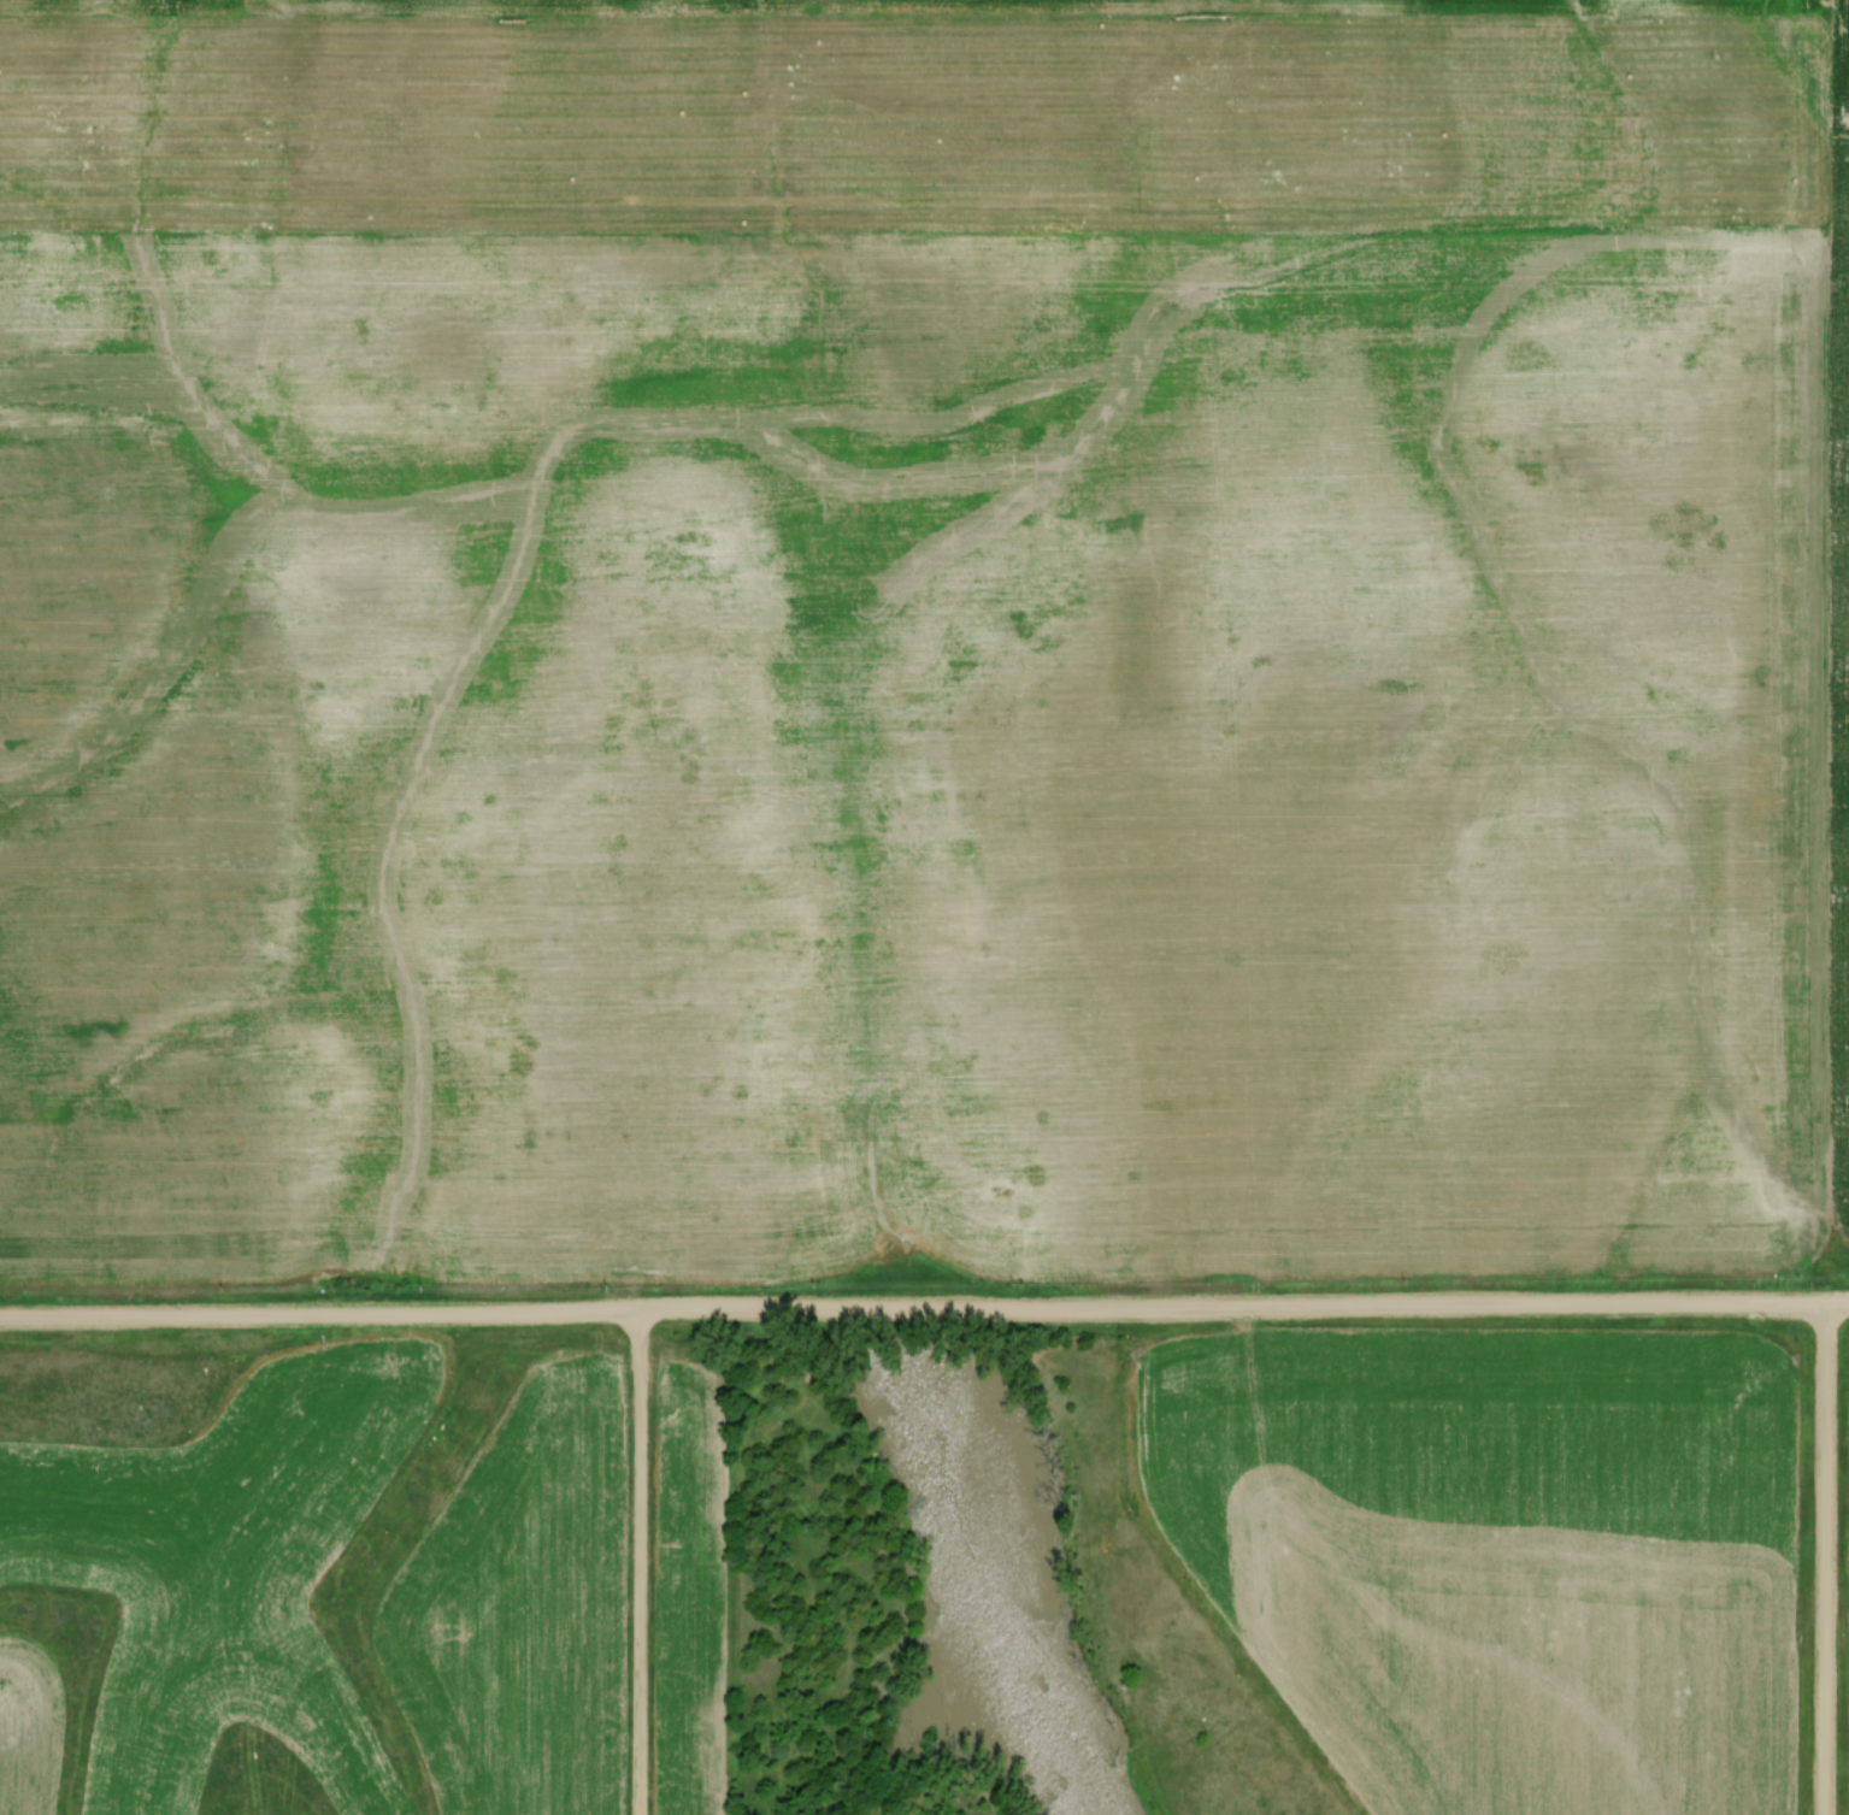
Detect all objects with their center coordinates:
road: (924, 1309)
road: (1827, 1558)
road: (642, 1563)

